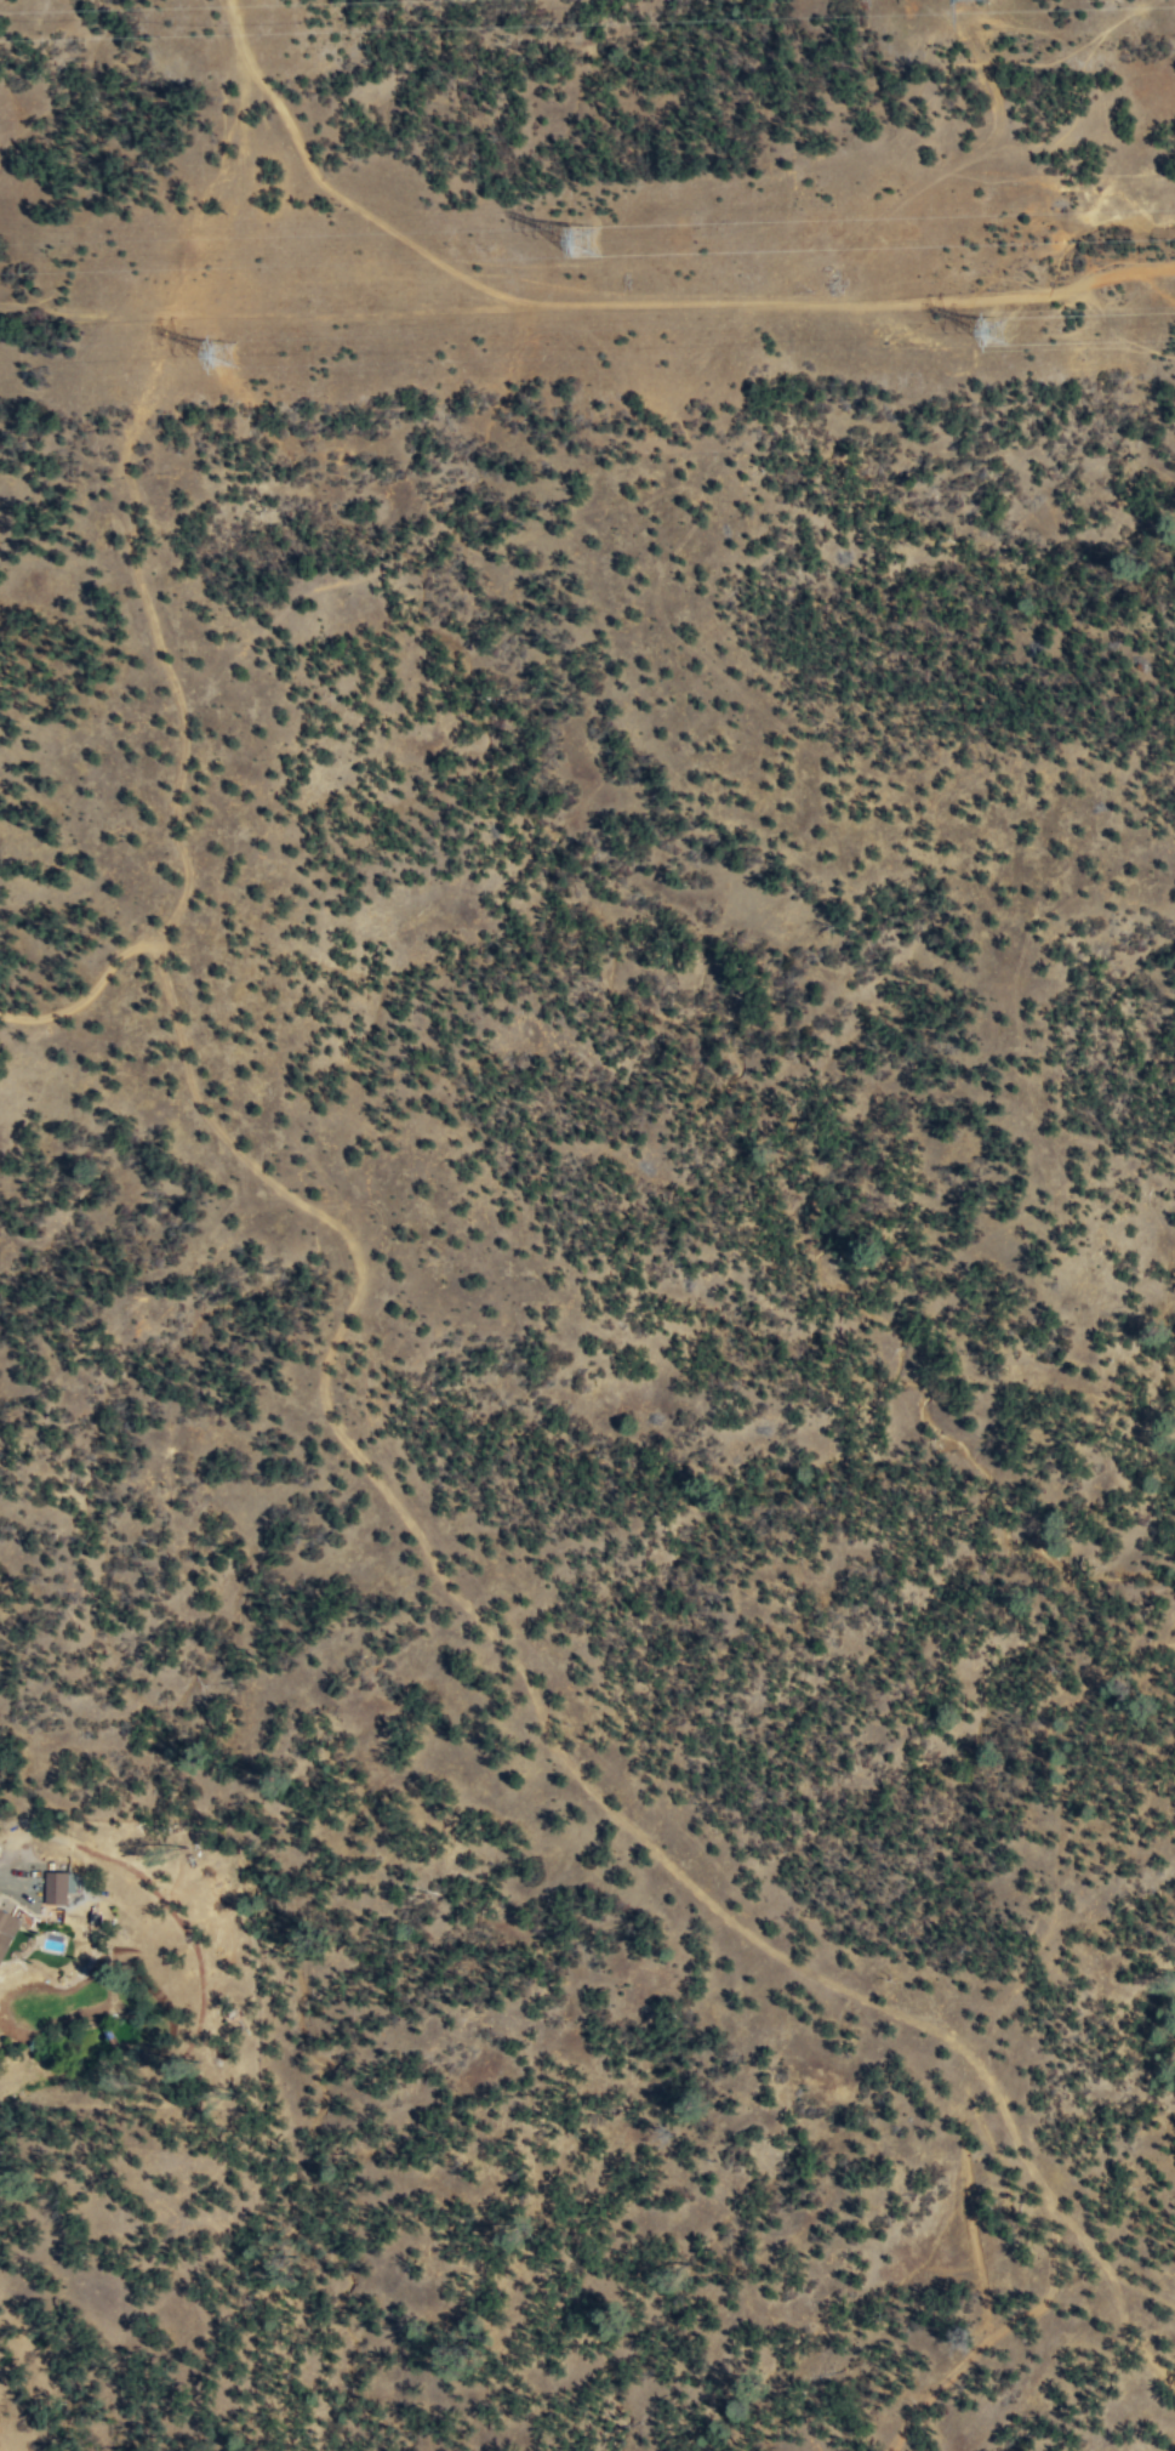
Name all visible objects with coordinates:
power tower: (989, 7)
power tower: (597, 248)
road: (629, 302)
power tower: (1011, 345)
power tower: (227, 364)
building: (59, 1886)
building: (7, 1930)

